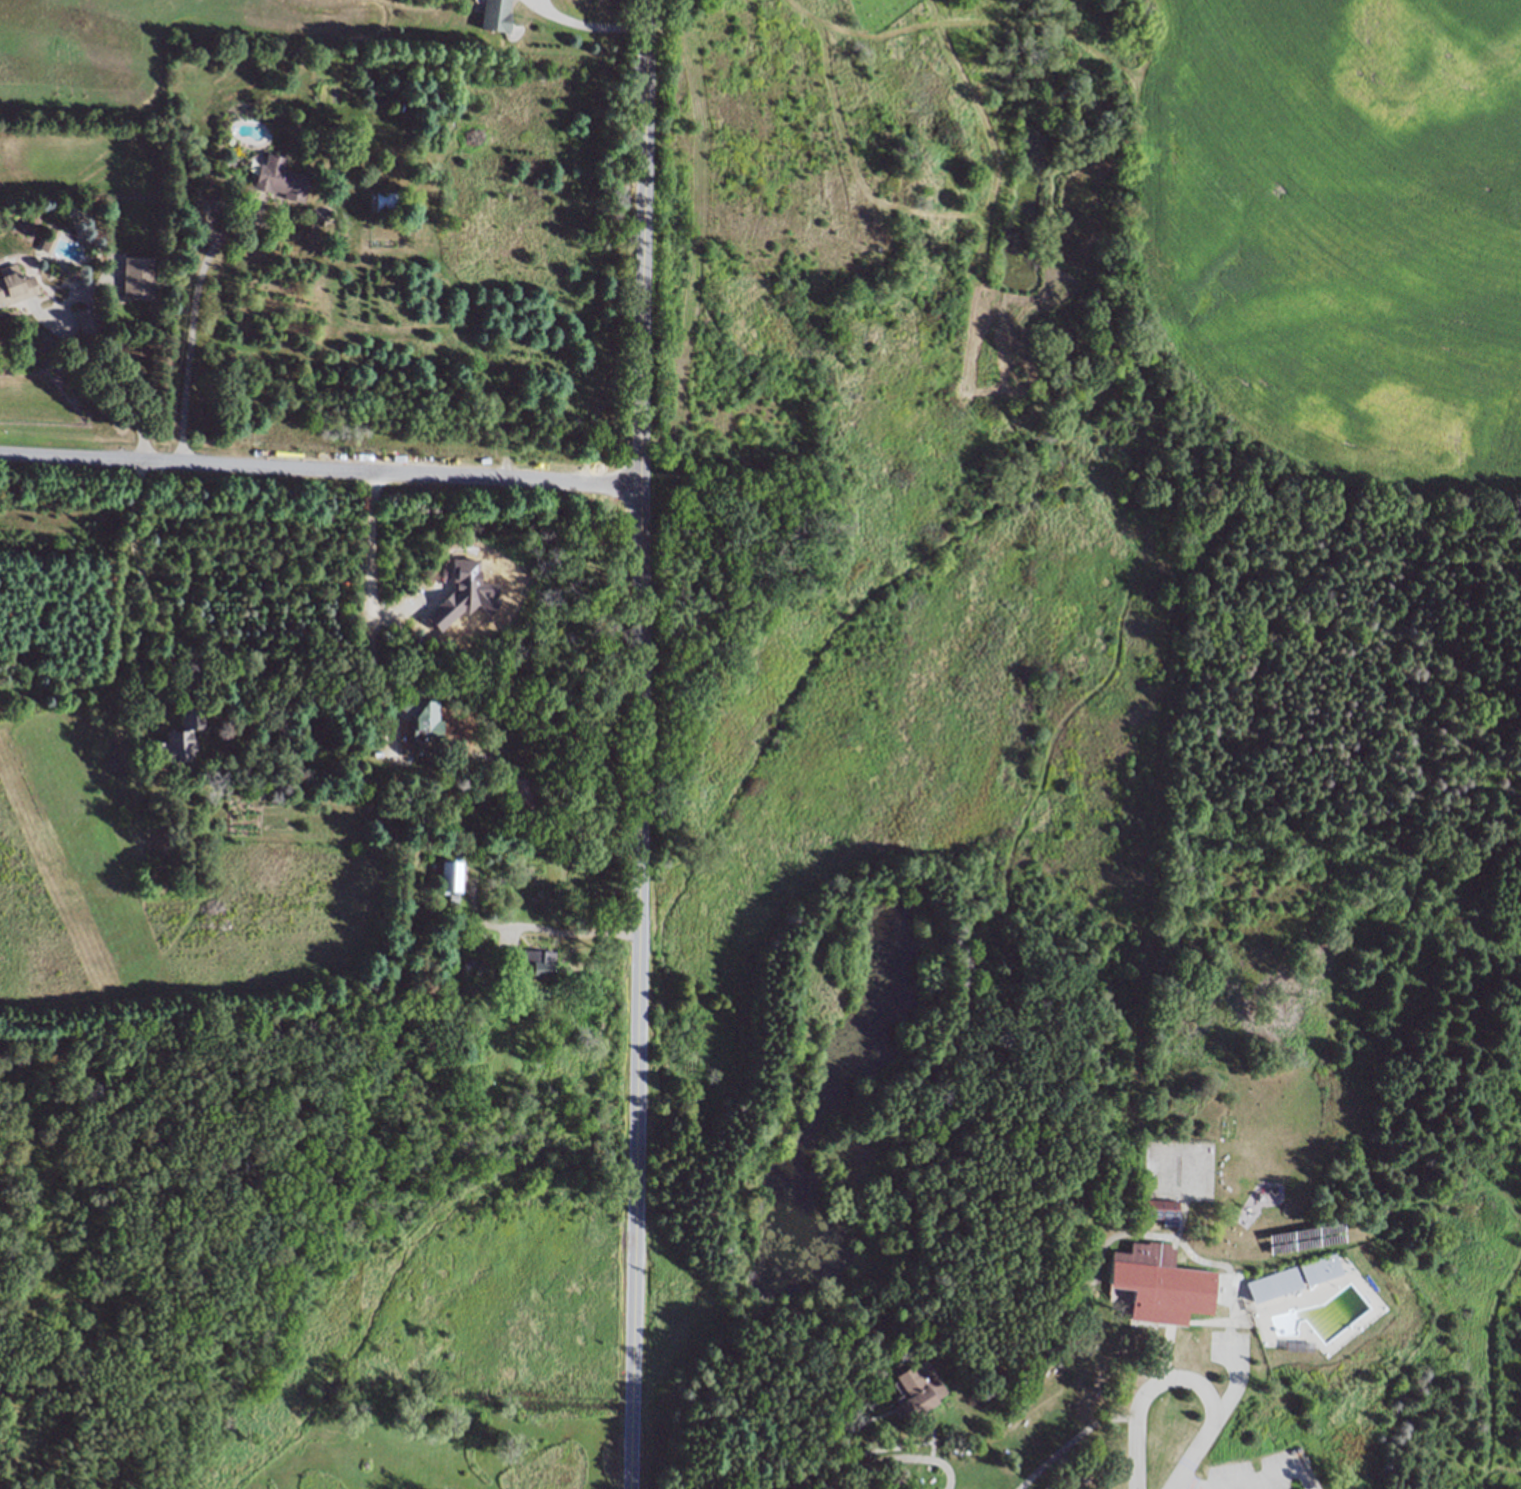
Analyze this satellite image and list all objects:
building: (495, 15)
road: (584, 29)
building: (279, 181)
building: (388, 203)
crop: (1316, 231)
building: (73, 279)
building: (138, 281)
building: (14, 287)
building: (90, 323)
road: (194, 326)
road: (100, 376)
road: (321, 469)
road: (144, 583)
road: (373, 600)
building: (420, 716)
building: (180, 739)
road: (642, 744)
building: (250, 791)
building: (520, 791)
building: (446, 877)
road: (553, 929)
building: (539, 960)
building: (466, 964)
building: (386, 1011)
building: (535, 1019)
building: (402, 1094)
building: (1161, 1210)
building: (1321, 1271)
building: (1161, 1285)
building: (1275, 1287)
parking lot: (1227, 1345)
road: (1182, 1378)
road: (1231, 1386)
building: (919, 1389)
parking lot: (1262, 1472)
road: (847, 1474)
road: (1232, 1484)

